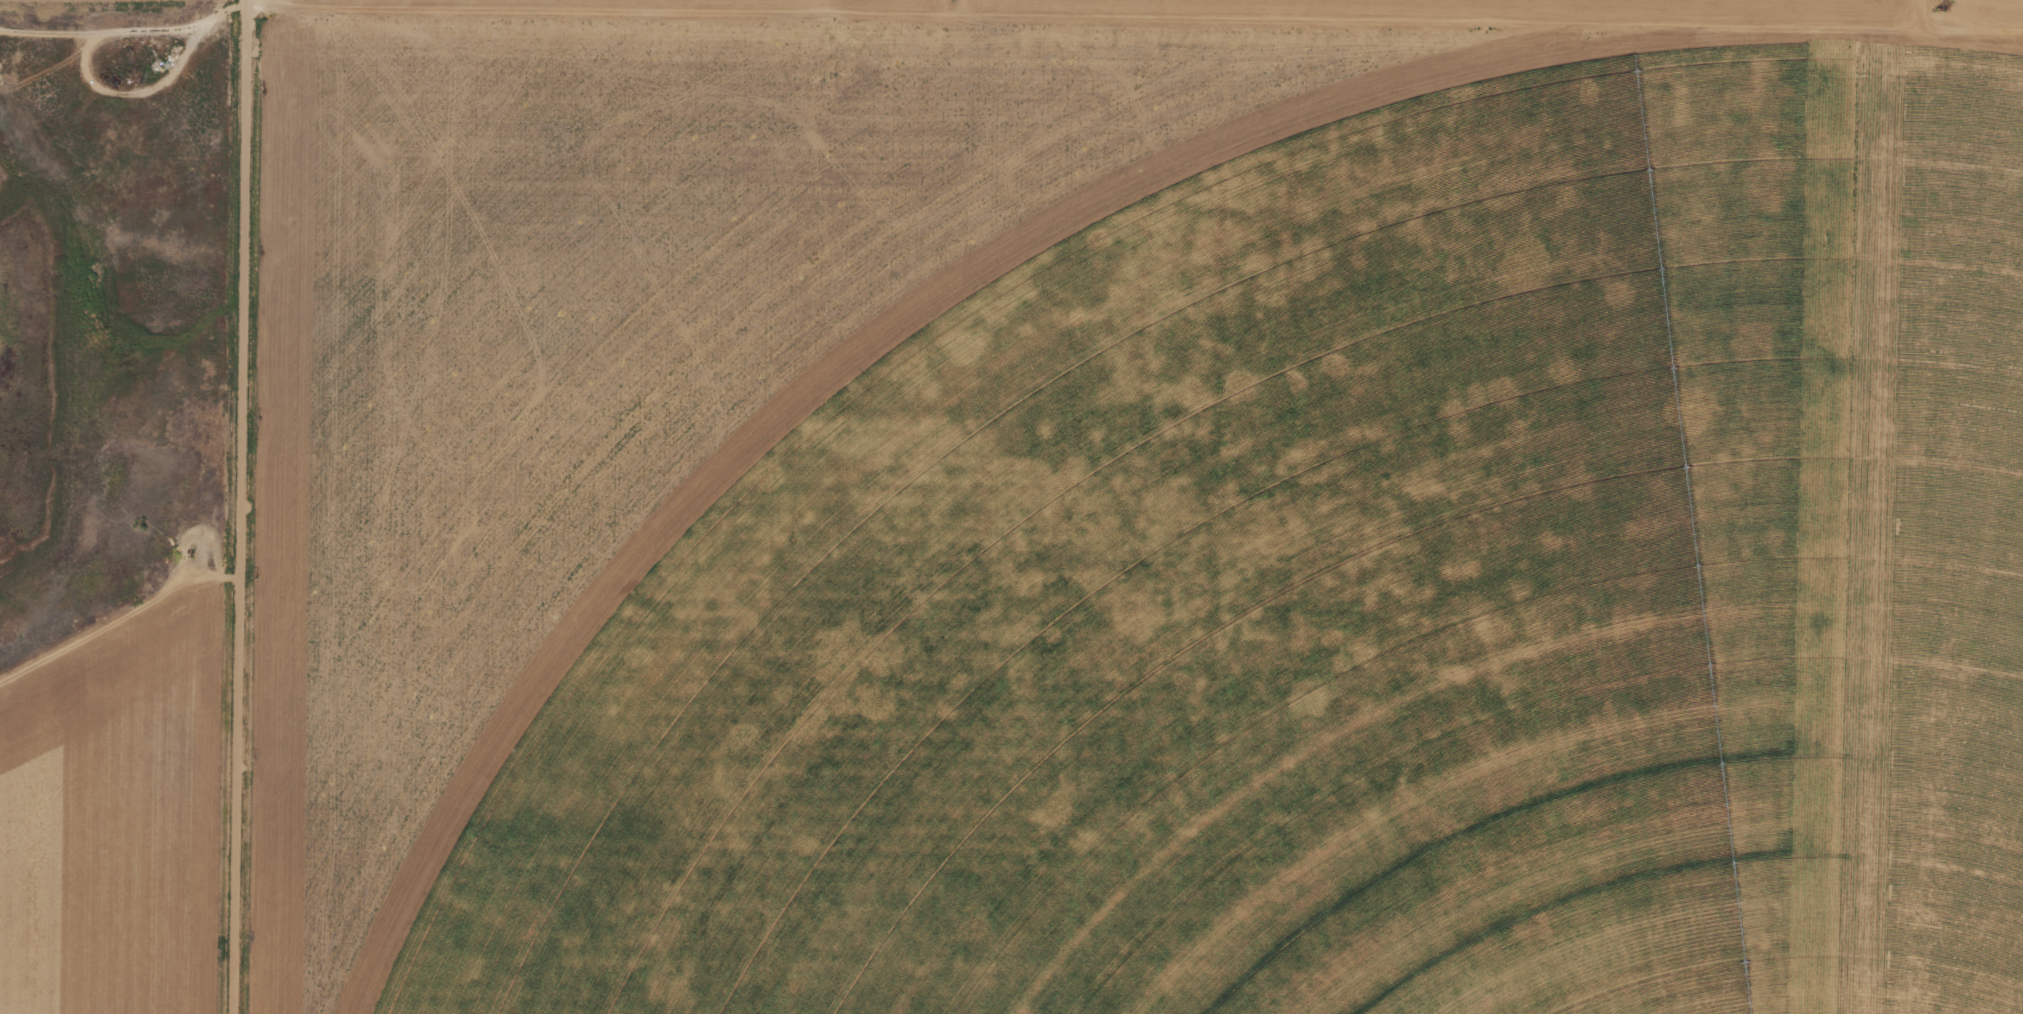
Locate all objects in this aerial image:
road: (1010, 46)
road: (242, 507)
road: (779, 529)

